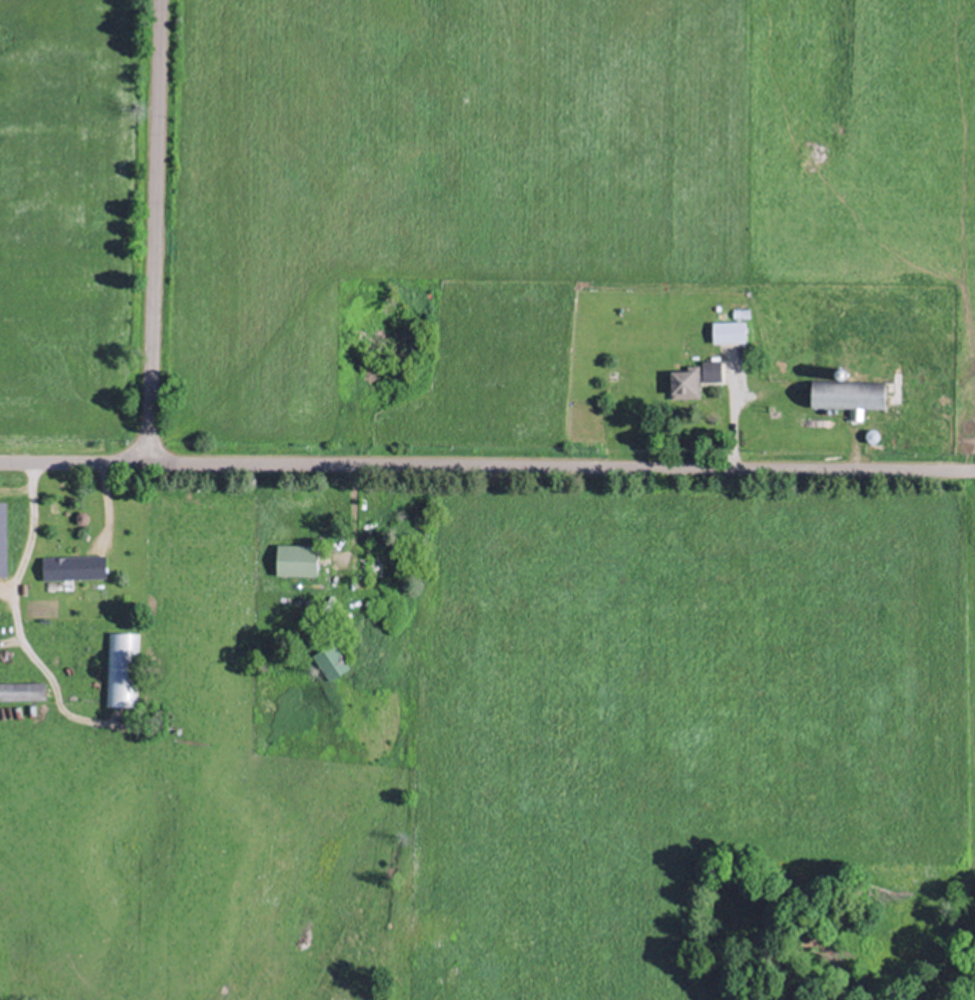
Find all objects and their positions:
road: (151, 229)
building: (728, 331)
building: (710, 370)
building: (685, 382)
building: (849, 394)
road: (730, 421)
road: (72, 458)
road: (560, 462)
road: (103, 487)
road: (28, 492)
road: (350, 502)
building: (9, 517)
building: (297, 559)
building: (73, 566)
building: (121, 643)
building: (330, 661)
building: (22, 690)

